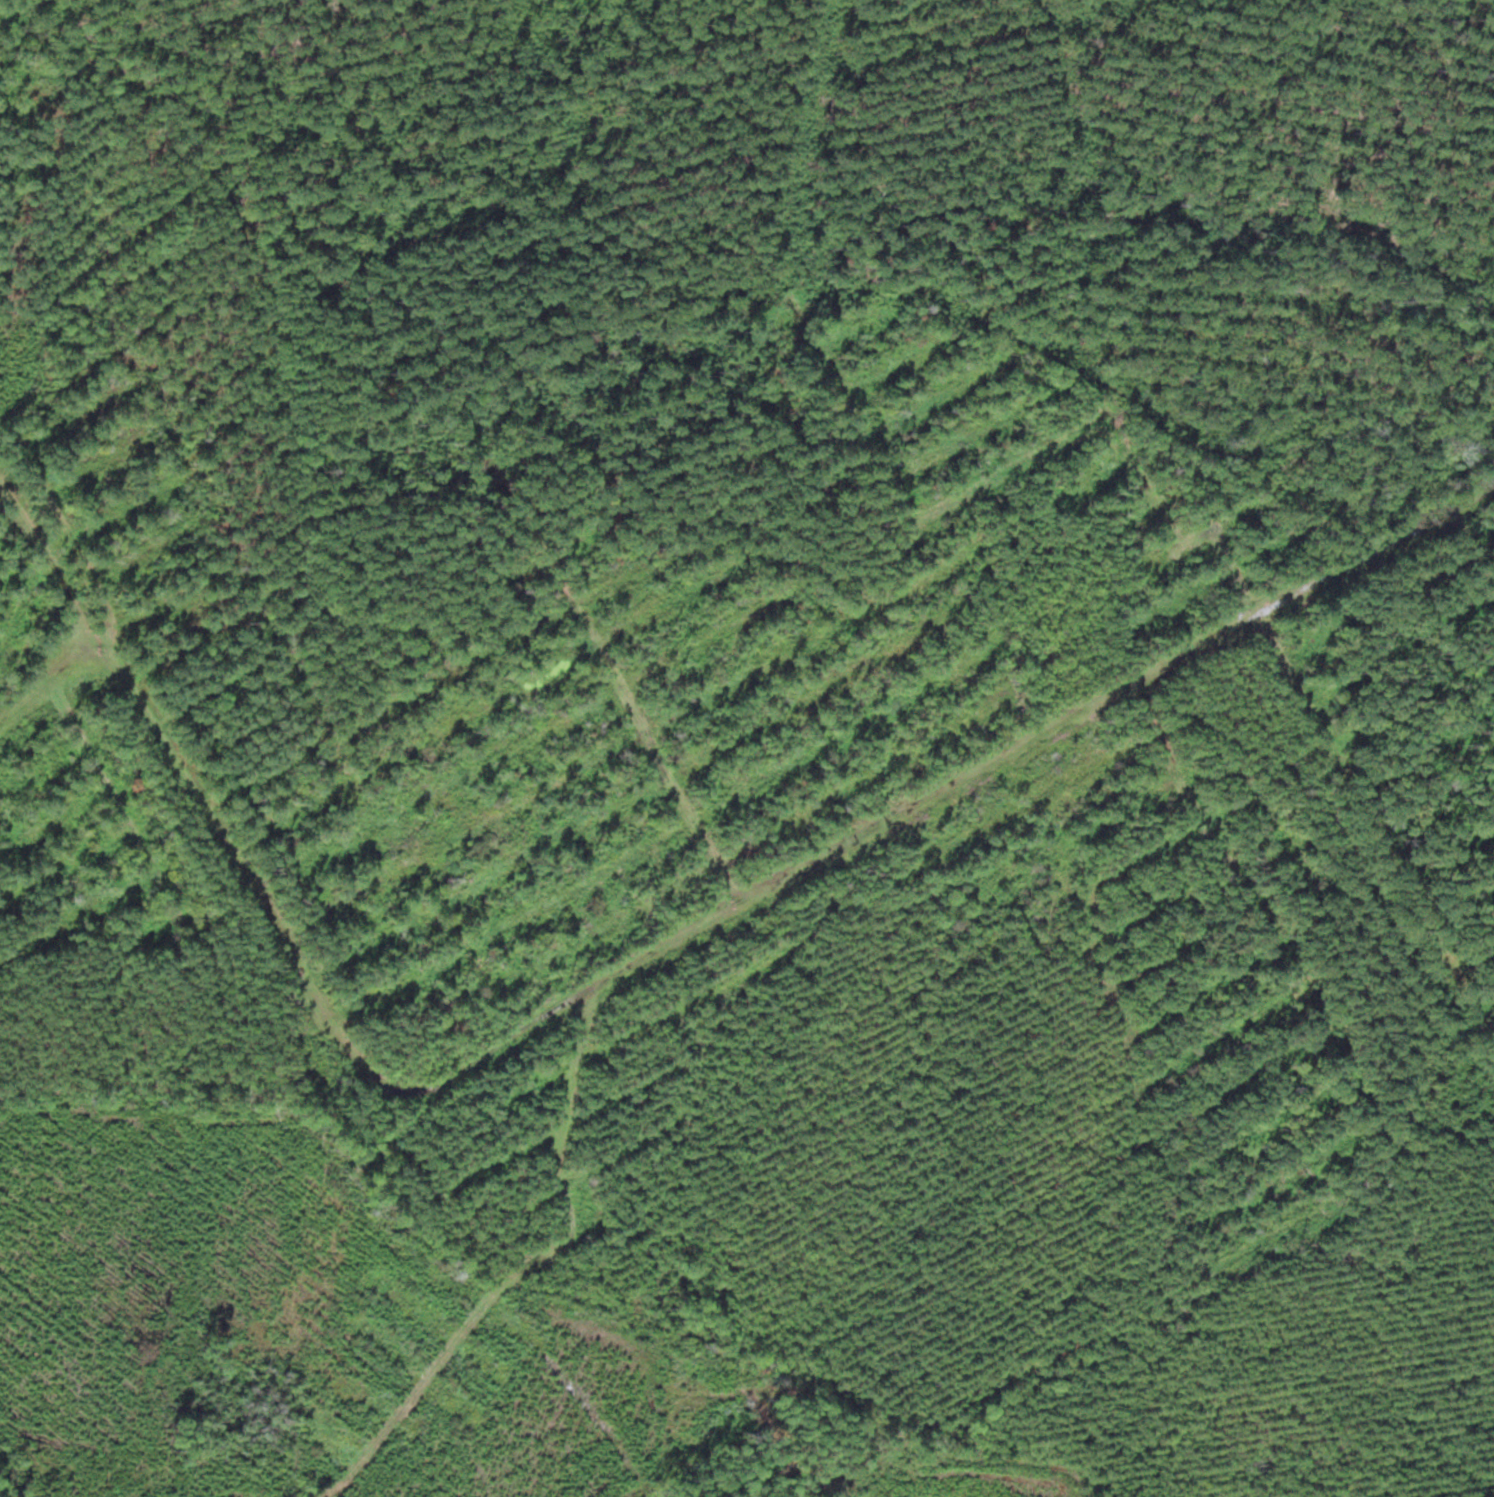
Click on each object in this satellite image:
road: (45, 564)

